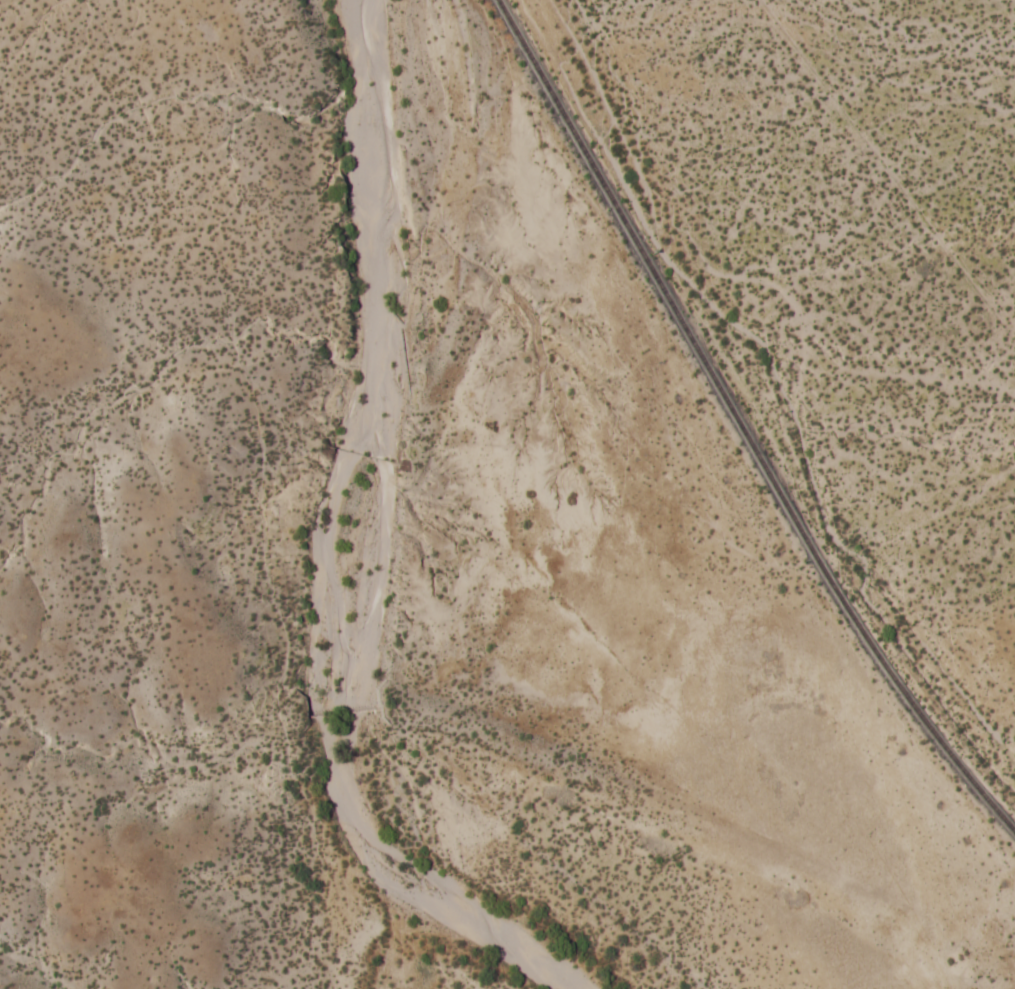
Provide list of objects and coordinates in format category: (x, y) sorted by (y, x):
railway: (739, 425)

